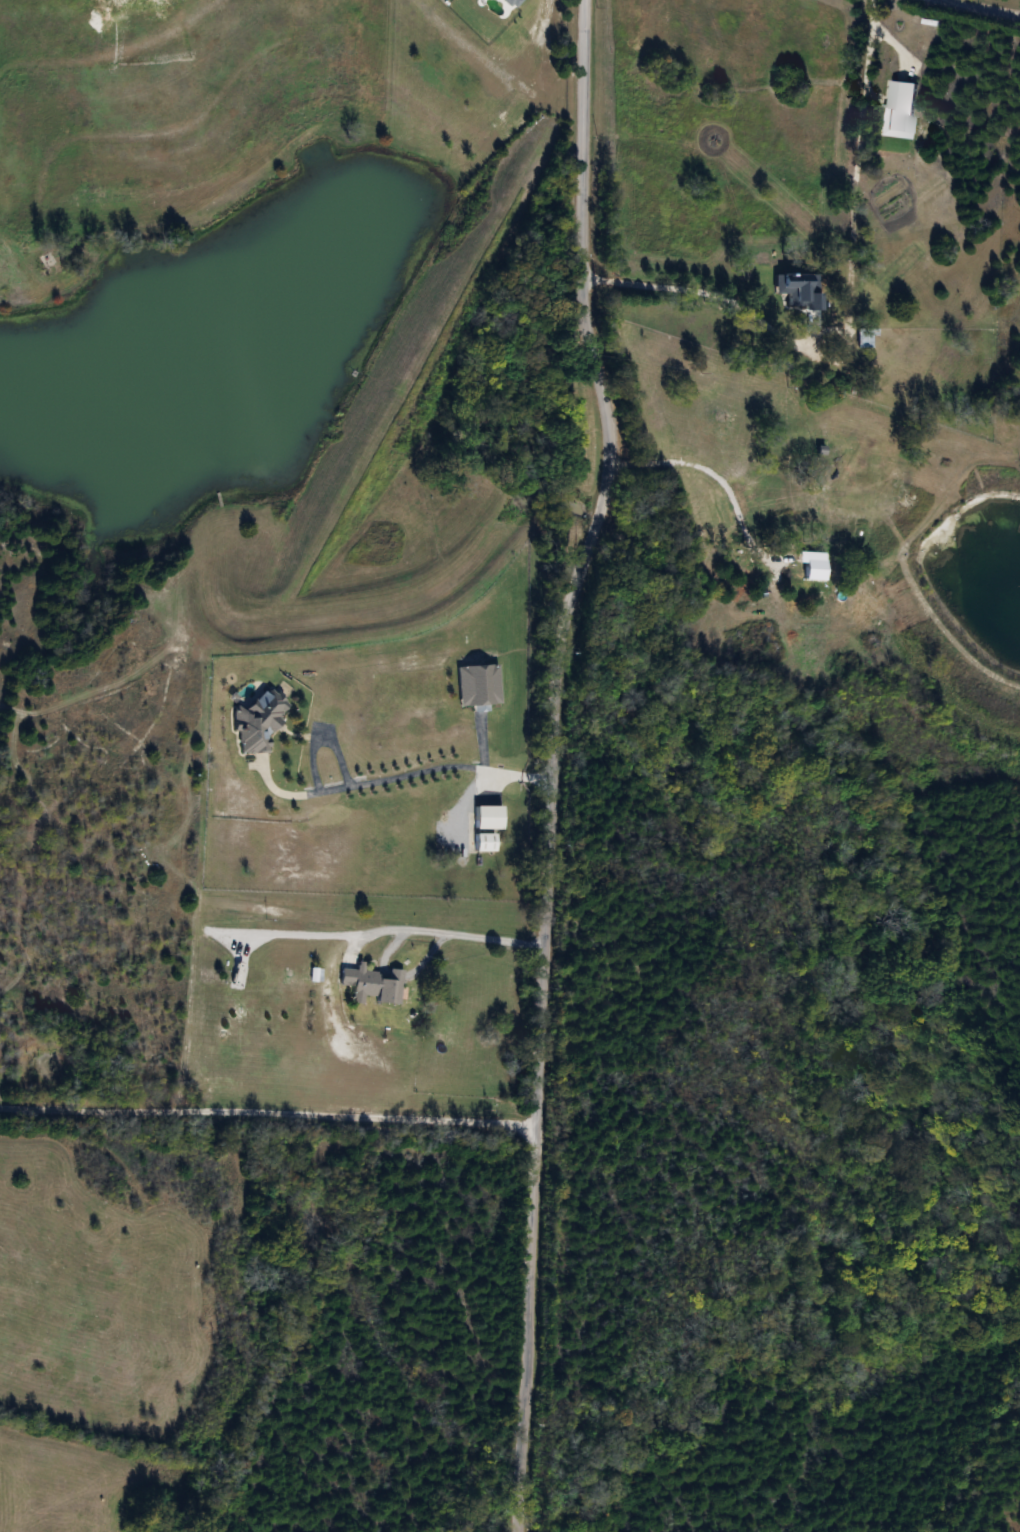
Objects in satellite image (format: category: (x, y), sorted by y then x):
road: (980, 7)
road: (894, 40)
road: (865, 50)
road: (707, 293)
building: (823, 320)
road: (713, 469)
building: (477, 684)
building: (256, 725)
road: (554, 761)
road: (401, 773)
building: (487, 817)
building: (484, 842)
road: (320, 928)
road: (455, 931)
building: (374, 983)
road: (269, 1113)

